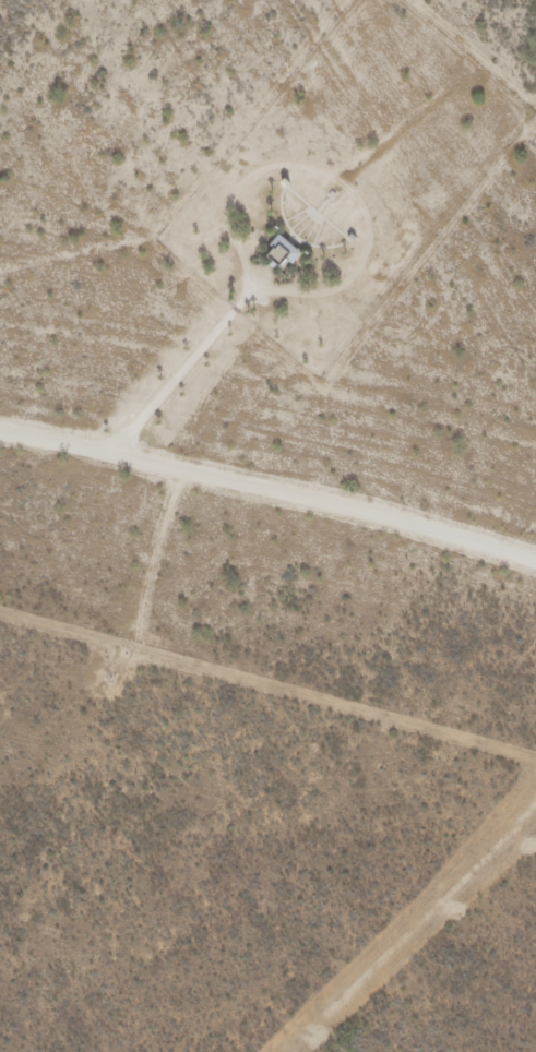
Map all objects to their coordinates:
building: (279, 244)
road: (270, 489)

